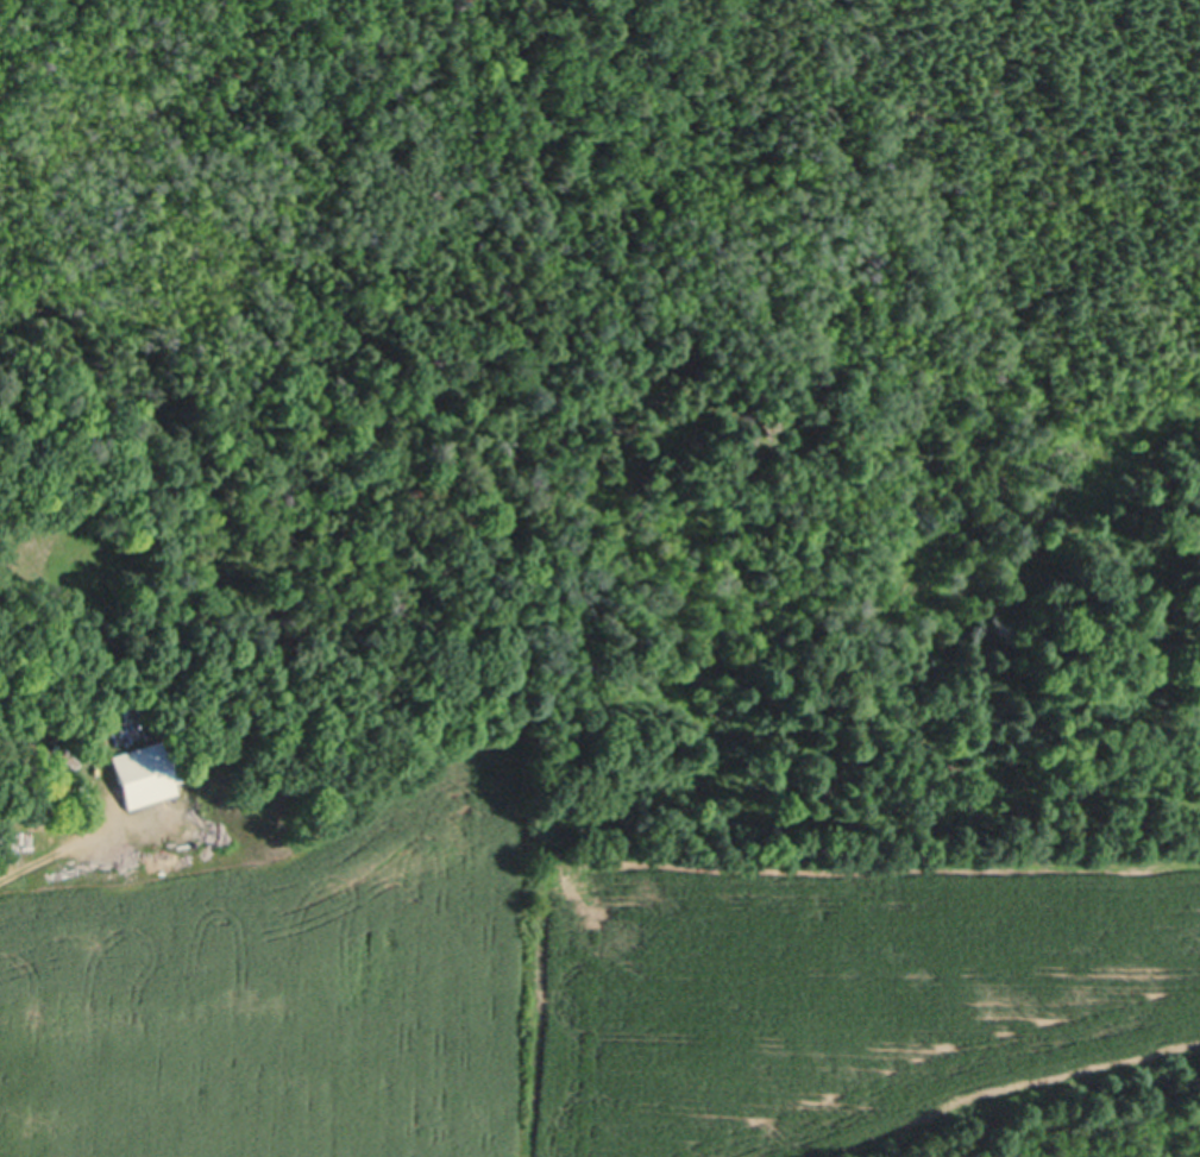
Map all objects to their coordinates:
building: (44, 730)
building: (83, 738)
building: (65, 752)
building: (46, 754)
building: (147, 771)
building: (81, 790)
building: (62, 792)

